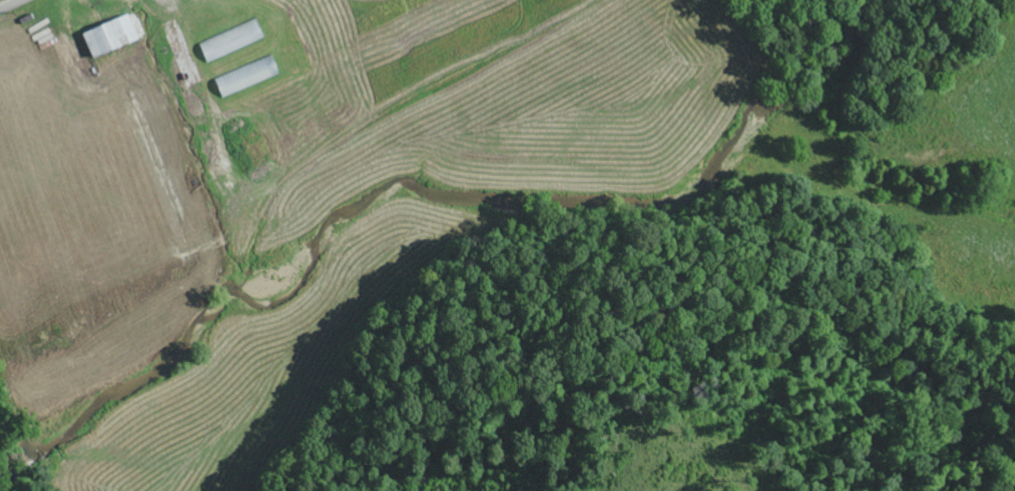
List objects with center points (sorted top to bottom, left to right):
road: (9, 4)
building: (105, 37)
building: (227, 42)
building: (242, 78)

